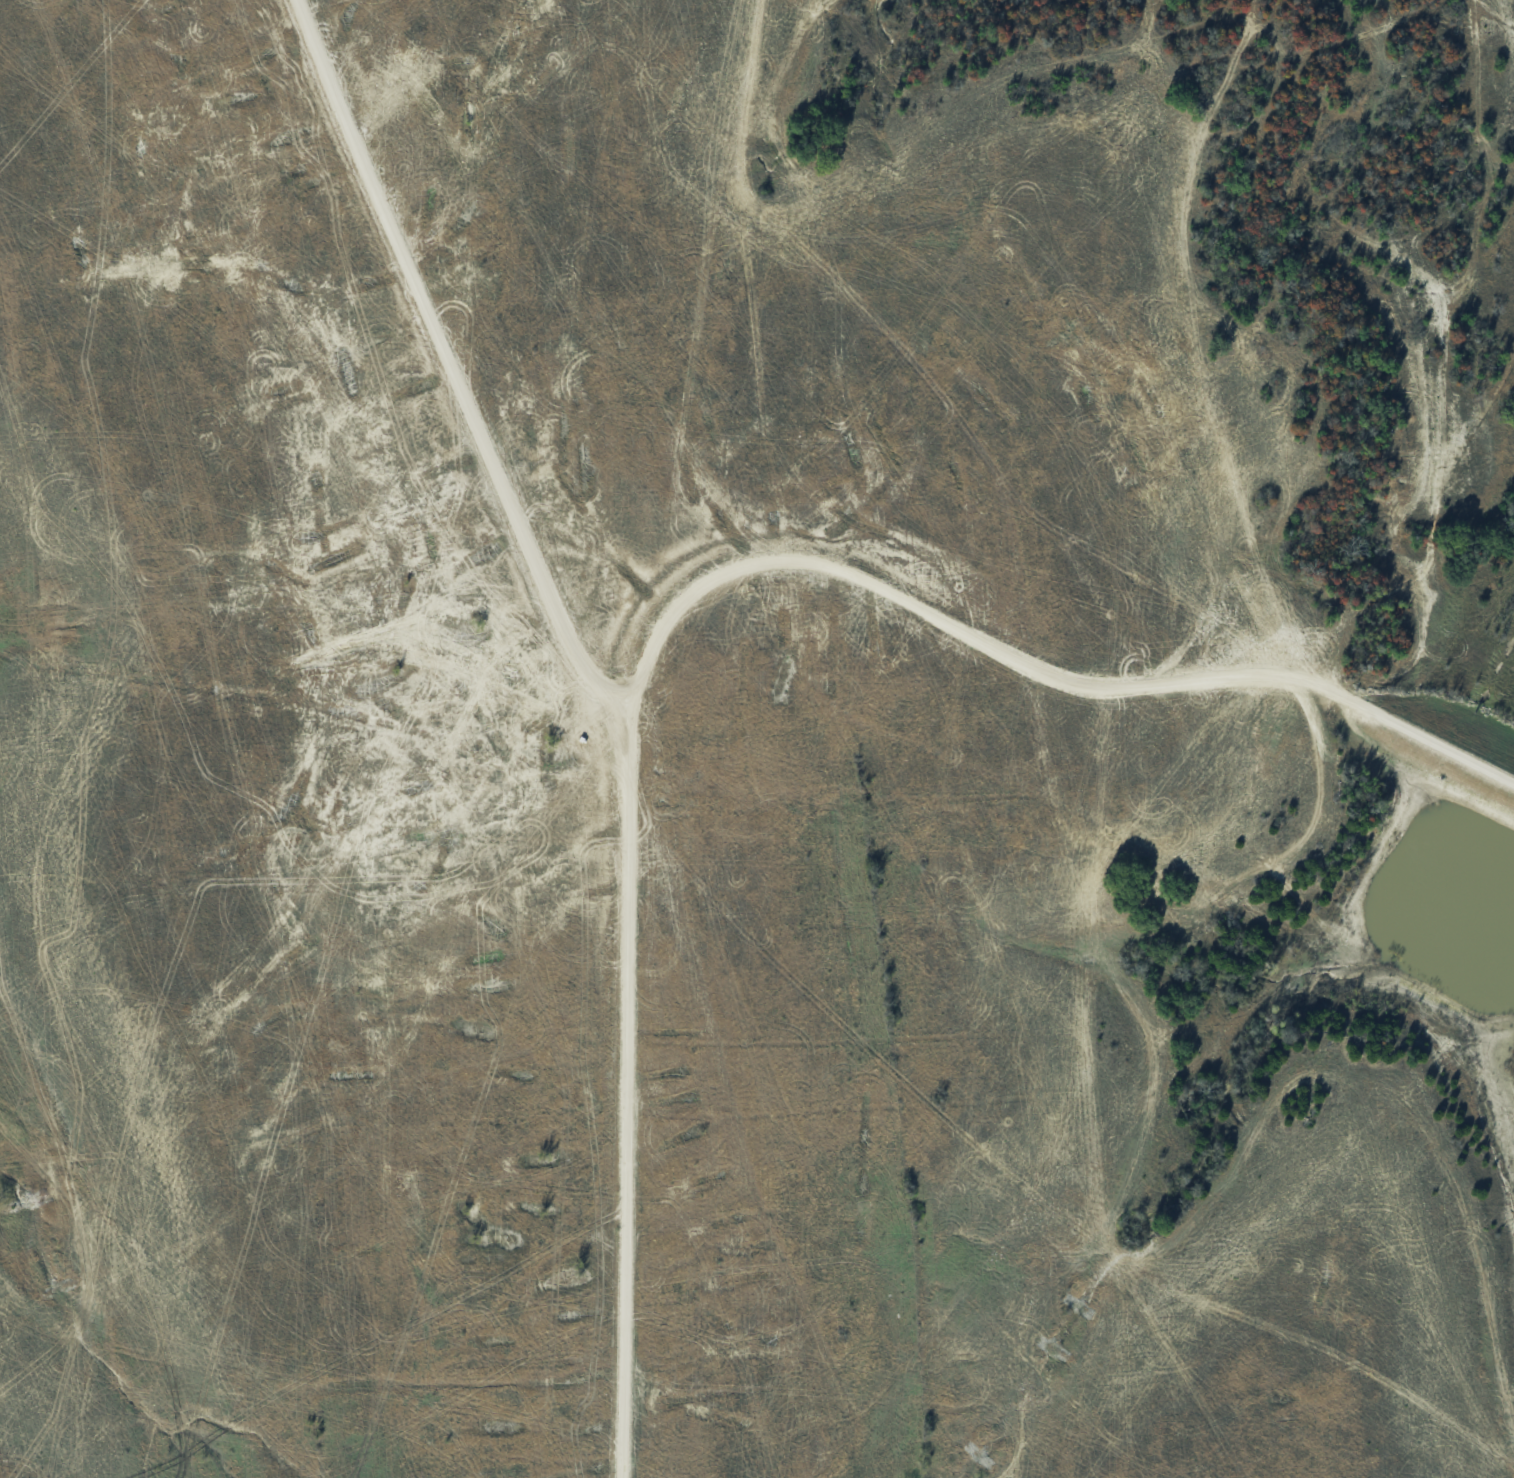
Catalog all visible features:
road: (606, 708)

